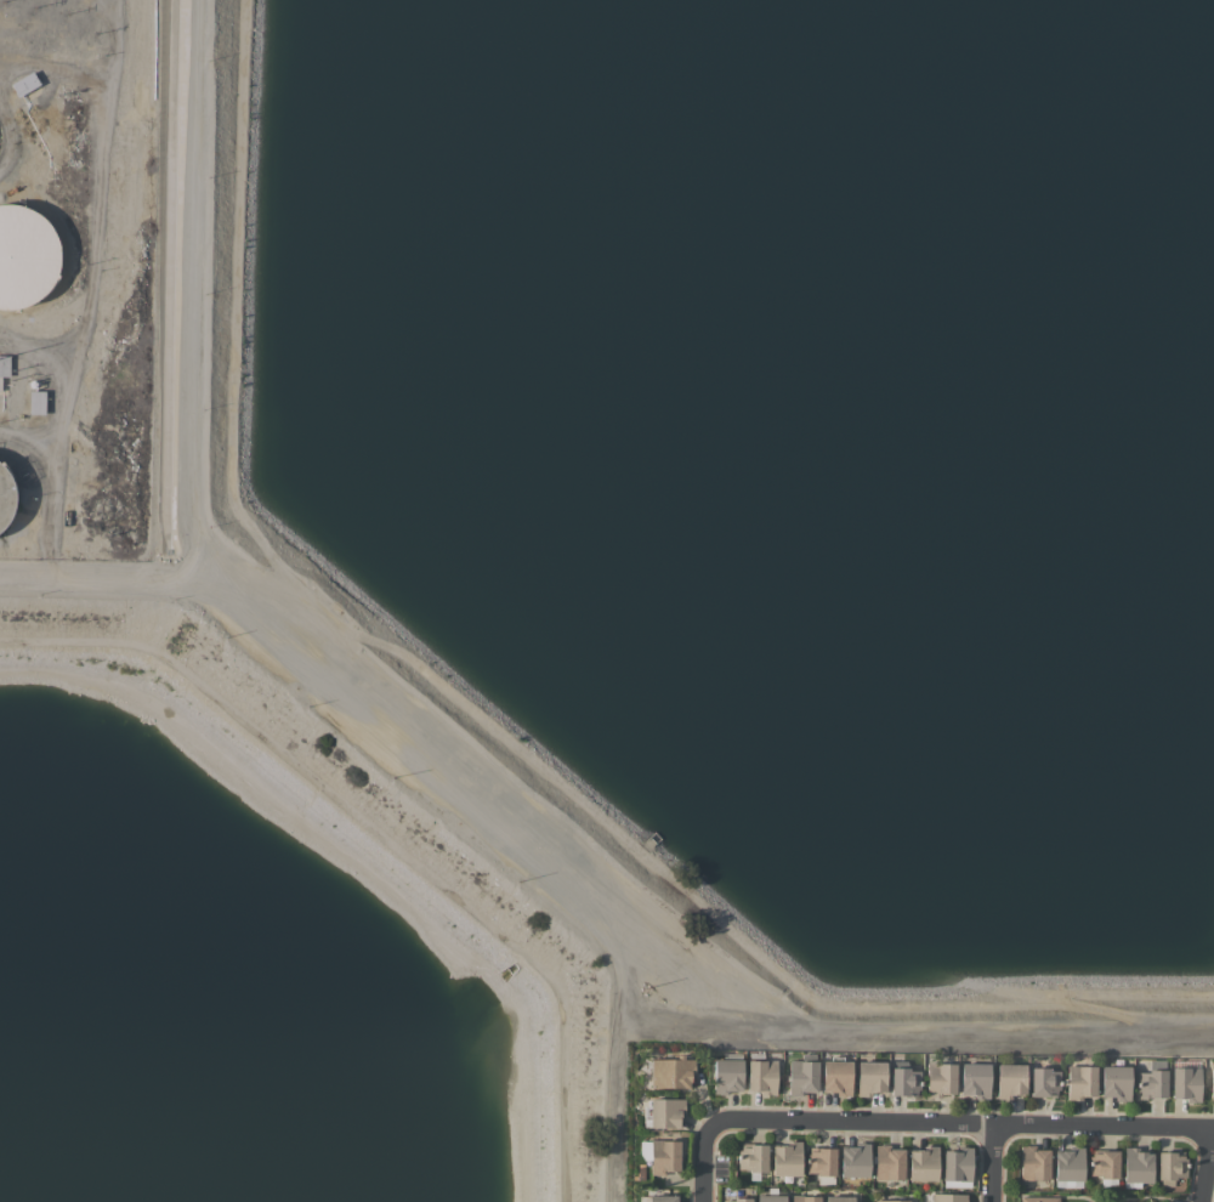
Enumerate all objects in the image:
building: (24, 83)
road: (98, 251)
building: (25, 256)
road: (42, 352)
building: (4, 365)
building: (35, 402)
building: (5, 495)
road: (59, 579)
road: (302, 642)
building: (674, 1072)
building: (726, 1073)
building: (761, 1075)
building: (802, 1075)
building: (836, 1076)
building: (869, 1078)
building: (903, 1079)
building: (940, 1079)
building: (975, 1079)
building: (1010, 1079)
building: (1152, 1081)
building: (1212, 1081)
building: (1044, 1082)
building: (1080, 1082)
building: (1114, 1082)
building: (1185, 1083)
building: (664, 1112)
road: (960, 1119)
building: (663, 1156)
building: (751, 1157)
building: (785, 1158)
building: (853, 1160)
road: (702, 1161)
road: (997, 1161)
building: (887, 1162)
building: (821, 1163)
building: (923, 1163)
building: (957, 1163)
building: (1033, 1163)
building: (1102, 1164)
building: (1068, 1166)
building: (1135, 1167)
building: (1169, 1167)
road: (1207, 1170)
building: (770, 1196)
building: (948, 1197)
building: (659, 1198)
building: (804, 1198)
building: (838, 1198)
building: (1038, 1198)
building: (738, 1200)
building: (890, 1201)

